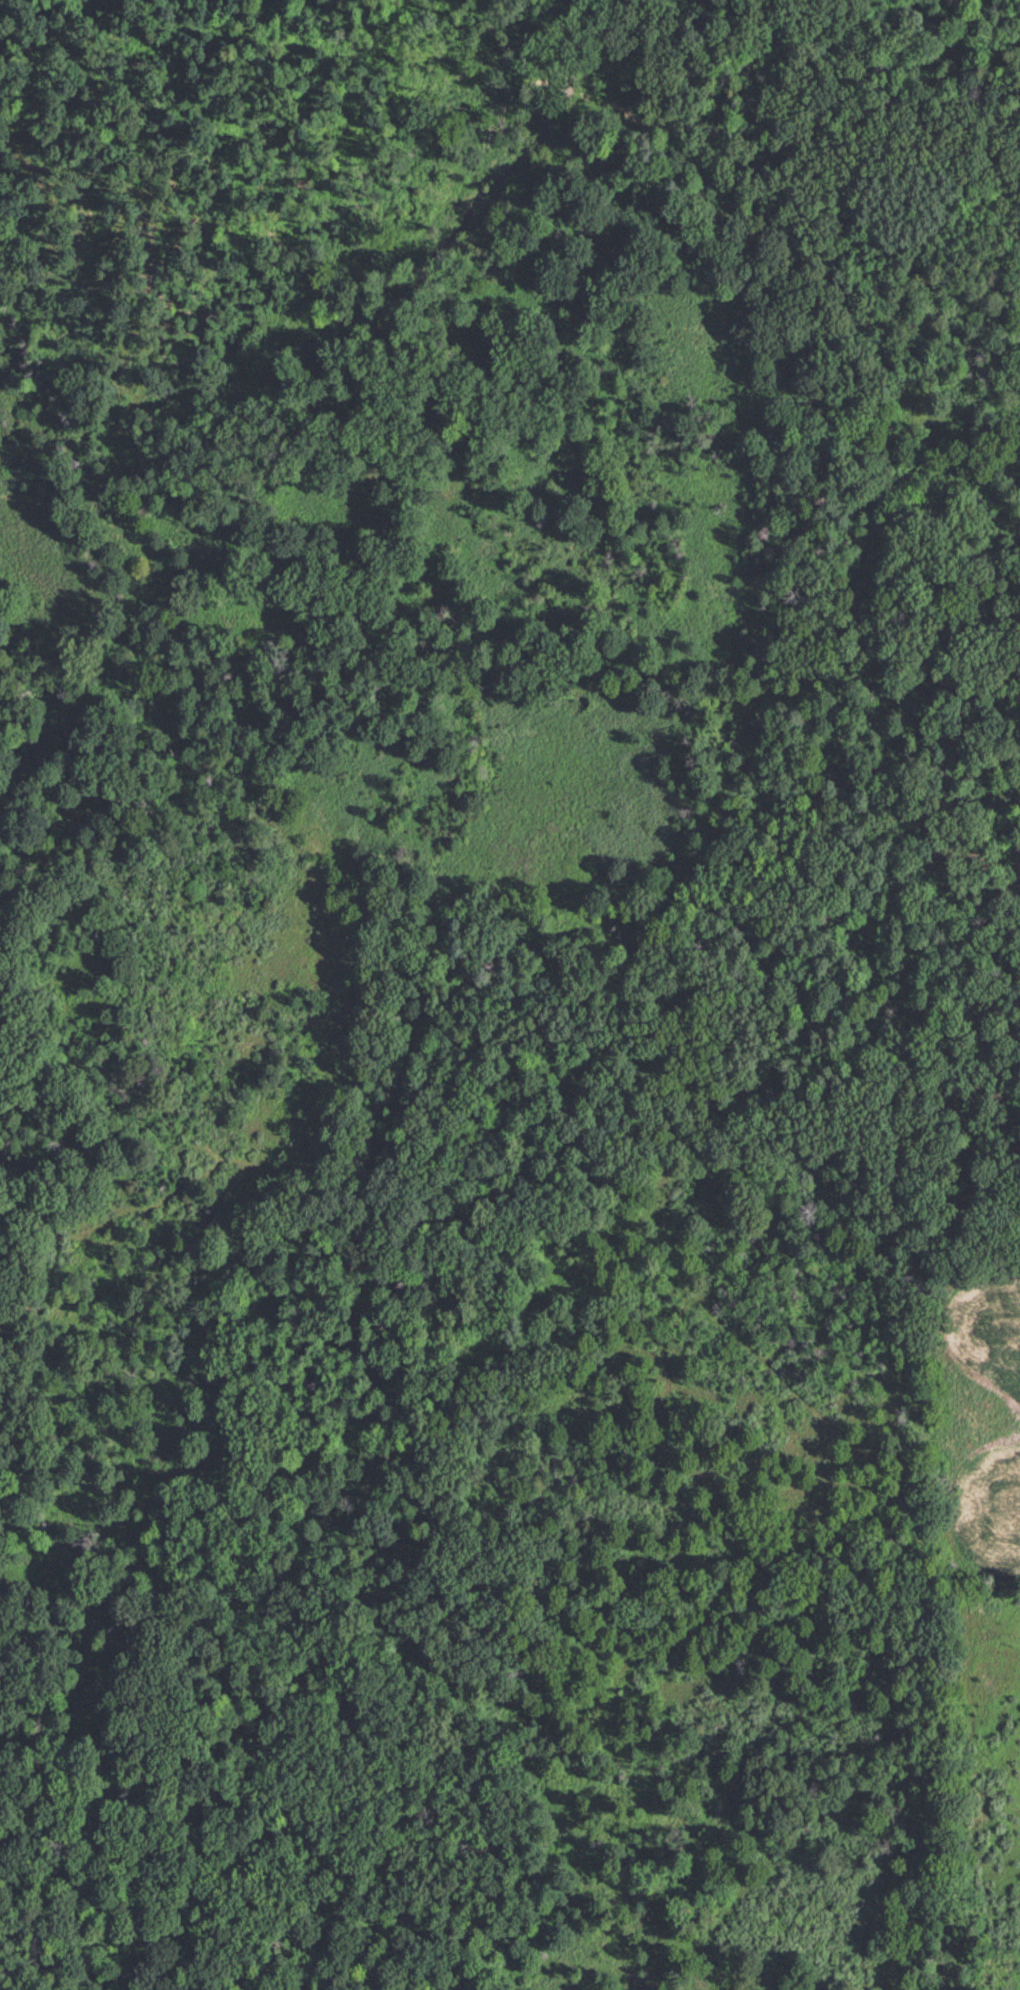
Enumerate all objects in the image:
crop: (997, 1440)

